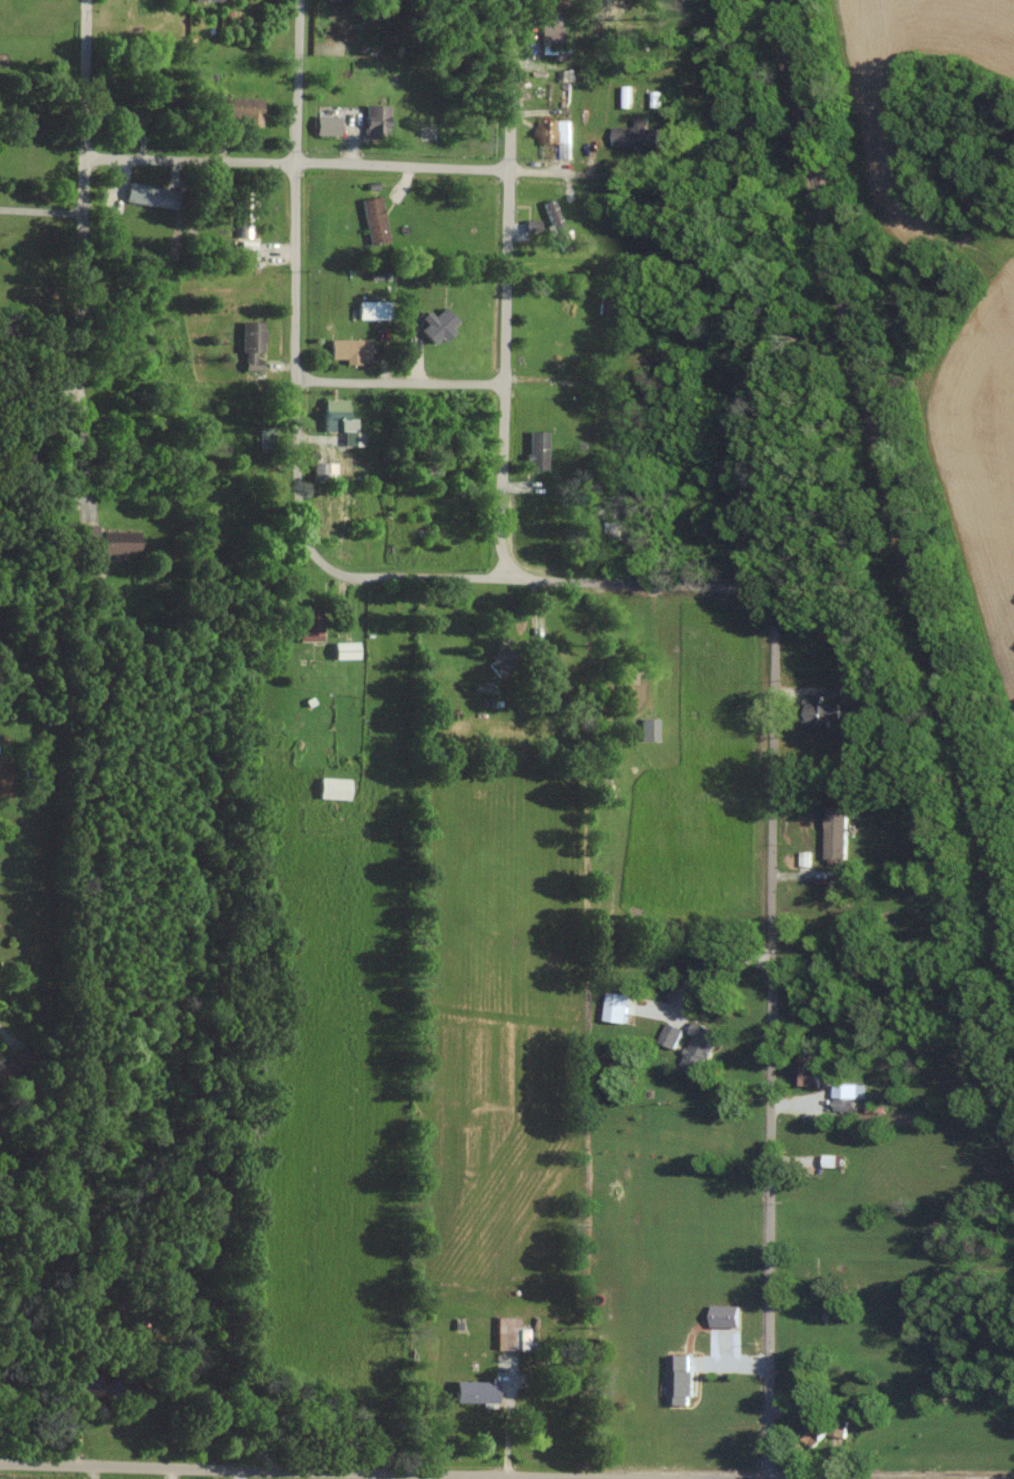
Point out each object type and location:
building: (546, 25)
building: (625, 95)
building: (240, 109)
building: (372, 116)
building: (121, 120)
building: (324, 124)
building: (553, 130)
building: (633, 133)
road: (326, 163)
building: (145, 194)
road: (41, 210)
building: (244, 210)
building: (371, 218)
building: (554, 224)
road: (81, 248)
building: (245, 248)
road: (297, 284)
road: (504, 287)
building: (369, 308)
building: (435, 324)
building: (249, 344)
building: (347, 349)
road: (400, 382)
building: (337, 420)
building: (535, 449)
railway: (884, 459)
road: (80, 462)
building: (323, 468)
building: (85, 534)
building: (116, 541)
road: (541, 579)
building: (307, 624)
building: (342, 649)
building: (816, 709)
building: (647, 728)
building: (330, 787)
building: (834, 832)
road: (701, 979)
building: (614, 1006)
road: (2, 1028)
building: (669, 1034)
road: (773, 1039)
building: (696, 1047)
building: (803, 1074)
building: (846, 1095)
building: (828, 1160)
building: (177, 1279)
building: (722, 1315)
building: (509, 1334)
building: (677, 1380)
building: (471, 1391)
building: (837, 1428)
building: (808, 1431)
road: (344, 1470)

